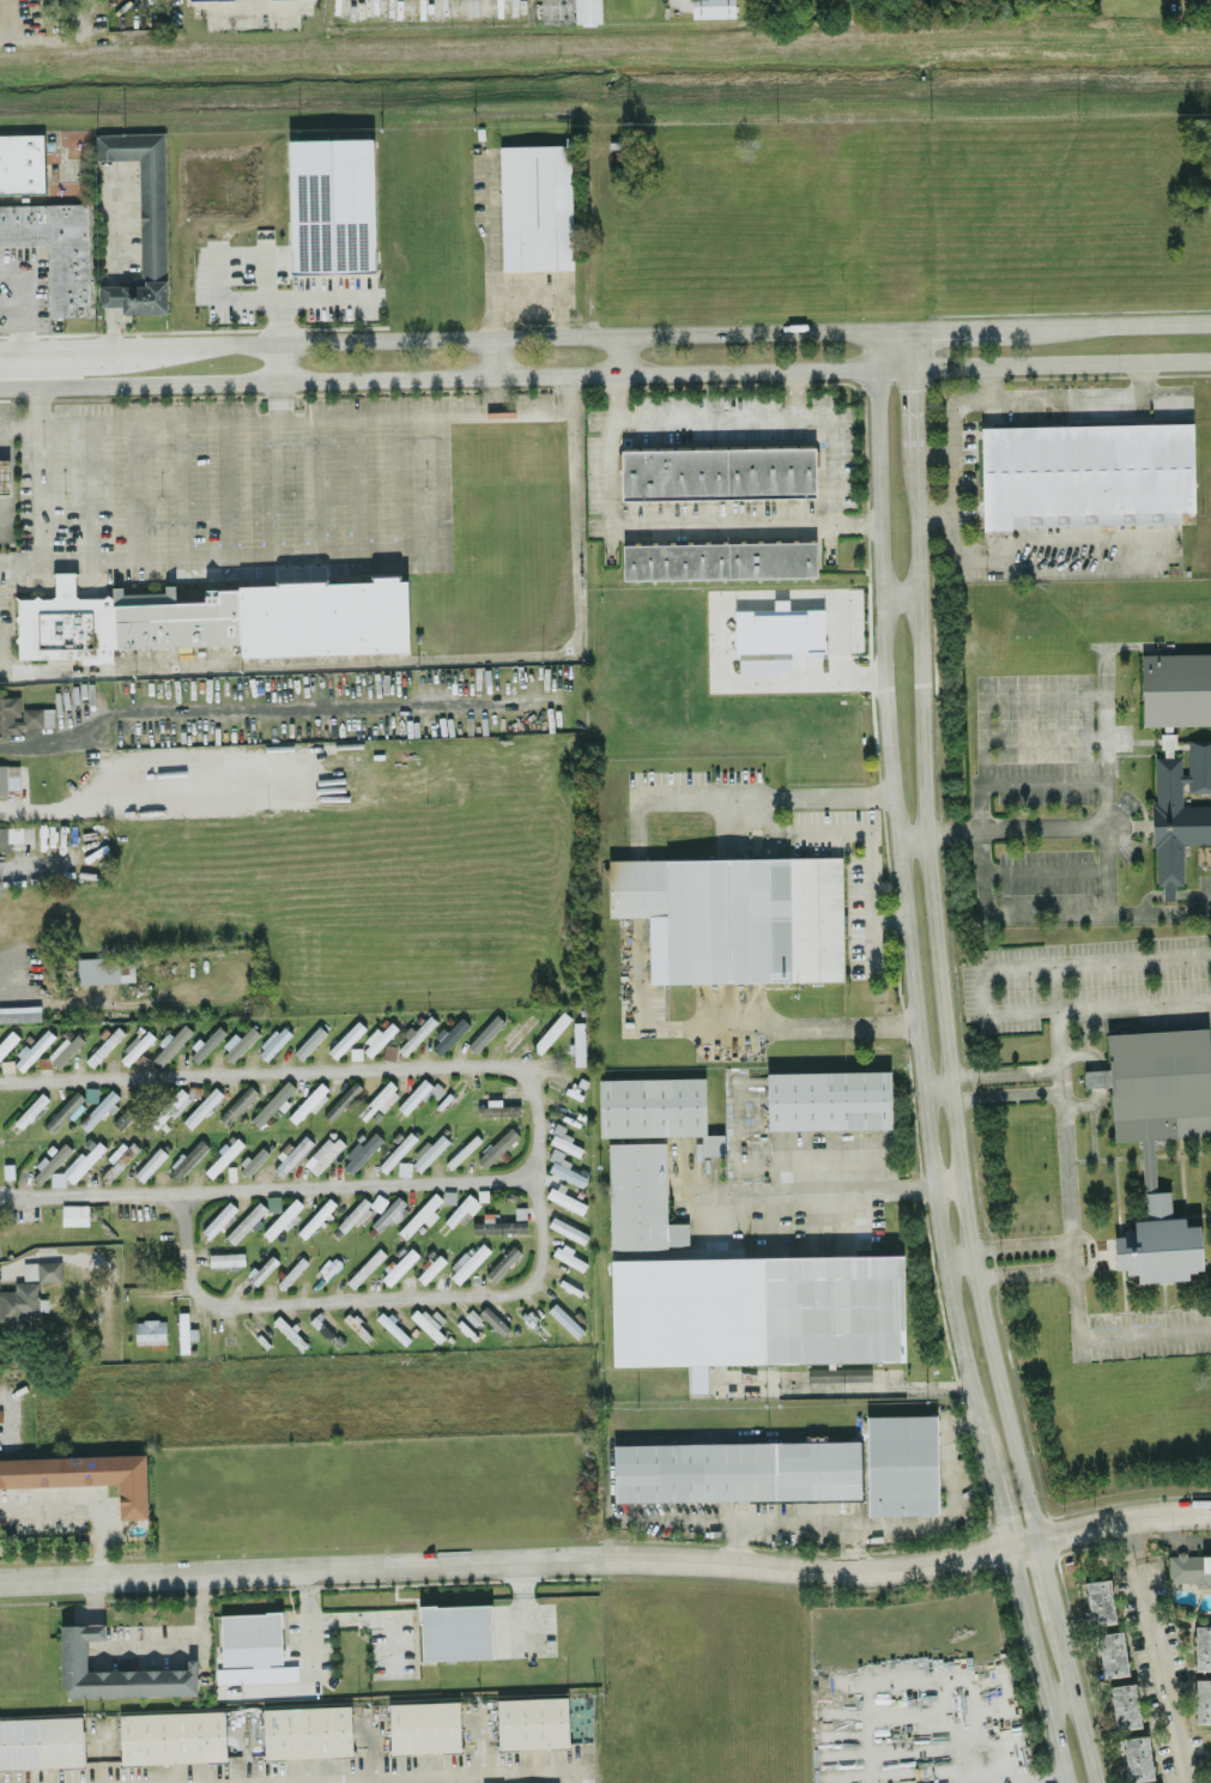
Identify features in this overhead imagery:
road: (250, 2)
building: (712, 7)
building: (587, 11)
building: (332, 205)
building: (535, 206)
building: (141, 220)
building: (44, 224)
road: (116, 228)
road: (490, 249)
road: (291, 297)
road: (543, 297)
road: (25, 300)
road: (13, 308)
road: (277, 320)
road: (111, 324)
road: (1109, 326)
road: (949, 331)
road: (531, 338)
road: (55, 344)
road: (141, 344)
road: (900, 351)
road: (613, 356)
road: (492, 357)
road: (274, 359)
road: (36, 364)
road: (1060, 364)
road: (454, 375)
road: (991, 382)
road: (494, 394)
road: (792, 394)
road: (277, 398)
road: (977, 399)
road: (285, 417)
road: (775, 417)
road: (910, 418)
road: (37, 471)
building: (717, 472)
building: (1086, 473)
building: (4, 475)
road: (932, 509)
road: (664, 526)
road: (1079, 538)
road: (1171, 552)
road: (286, 554)
road: (986, 555)
building: (719, 560)
road: (1079, 570)
road: (897, 594)
building: (216, 618)
road: (715, 618)
building: (779, 628)
road: (425, 658)
building: (1176, 688)
road: (266, 707)
building: (22, 714)
road: (981, 715)
road: (59, 731)
building: (1167, 739)
building: (8, 776)
road: (1104, 782)
road: (60, 804)
building: (1179, 811)
road: (1013, 828)
road: (867, 833)
building: (10, 835)
road: (909, 835)
road: (40, 863)
road: (983, 901)
building: (735, 915)
road: (885, 917)
road: (635, 925)
road: (1095, 960)
building: (105, 968)
road: (981, 990)
road: (121, 995)
road: (1096, 1005)
road: (939, 1008)
building: (19, 1013)
building: (551, 1030)
building: (485, 1032)
building: (517, 1032)
building: (414, 1033)
building: (448, 1034)
building: (377, 1036)
building: (346, 1038)
building: (240, 1039)
building: (273, 1040)
building: (309, 1040)
building: (107, 1041)
building: (170, 1042)
building: (579, 1042)
building: (66, 1047)
building: (32, 1048)
road: (916, 1063)
road: (1001, 1072)
road: (1095, 1076)
road: (933, 1087)
road: (1003, 1090)
building: (418, 1093)
building: (828, 1099)
building: (237, 1104)
building: (202, 1106)
building: (498, 1107)
building: (31, 1108)
building: (655, 1108)
building: (1157, 1135)
road: (535, 1137)
building: (497, 1146)
building: (361, 1150)
building: (396, 1150)
building: (462, 1150)
road: (1064, 1150)
building: (322, 1154)
building: (425, 1154)
building: (223, 1155)
building: (565, 1169)
road: (944, 1184)
road: (268, 1187)
road: (817, 1189)
building: (641, 1197)
building: (565, 1198)
building: (461, 1210)
building: (389, 1213)
building: (74, 1214)
building: (420, 1214)
building: (499, 1225)
road: (1088, 1252)
road: (957, 1261)
building: (470, 1262)
building: (503, 1262)
building: (399, 1265)
building: (365, 1267)
building: (429, 1267)
building: (42, 1269)
building: (19, 1304)
building: (756, 1310)
building: (564, 1318)
building: (494, 1319)
building: (428, 1324)
building: (150, 1330)
road: (1144, 1334)
building: (837, 1373)
building: (902, 1463)
building: (737, 1470)
building: (84, 1475)
road: (955, 1501)
road: (81, 1510)
road: (677, 1517)
building: (0, 1519)
road: (1122, 1519)
road: (797, 1522)
road: (520, 1561)
building: (1189, 1569)
road: (1048, 1585)
building: (1100, 1600)
road: (373, 1616)
building: (455, 1631)
building: (250, 1638)
building: (1203, 1645)
road: (147, 1646)
road: (1161, 1650)
building: (1113, 1652)
road: (308, 1668)
building: (115, 1670)
road: (1059, 1694)
building: (1203, 1699)
building: (1125, 1704)
road: (1078, 1708)
building: (533, 1722)
building: (424, 1725)
building: (307, 1730)
road: (879, 1731)
building: (172, 1736)
building: (41, 1741)
building: (1137, 1757)
road: (398, 1772)
road: (458, 1776)
road: (1030, 1777)

